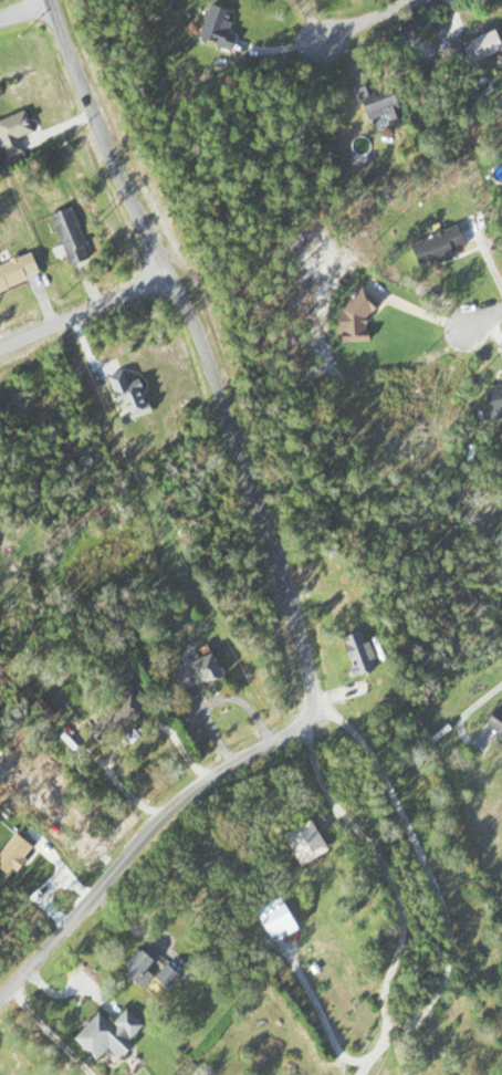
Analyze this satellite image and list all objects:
road: (366, 18)
building: (223, 23)
building: (492, 48)
building: (387, 104)
building: (19, 131)
building: (75, 236)
building: (432, 244)
building: (21, 271)
road: (84, 310)
road: (482, 320)
building: (136, 397)
building: (491, 398)
building: (1, 530)
road: (273, 539)
building: (366, 654)
building: (208, 672)
building: (123, 718)
building: (493, 718)
road: (140, 829)
building: (317, 844)
building: (292, 919)
building: (159, 968)
road: (51, 1027)
building: (116, 1034)

